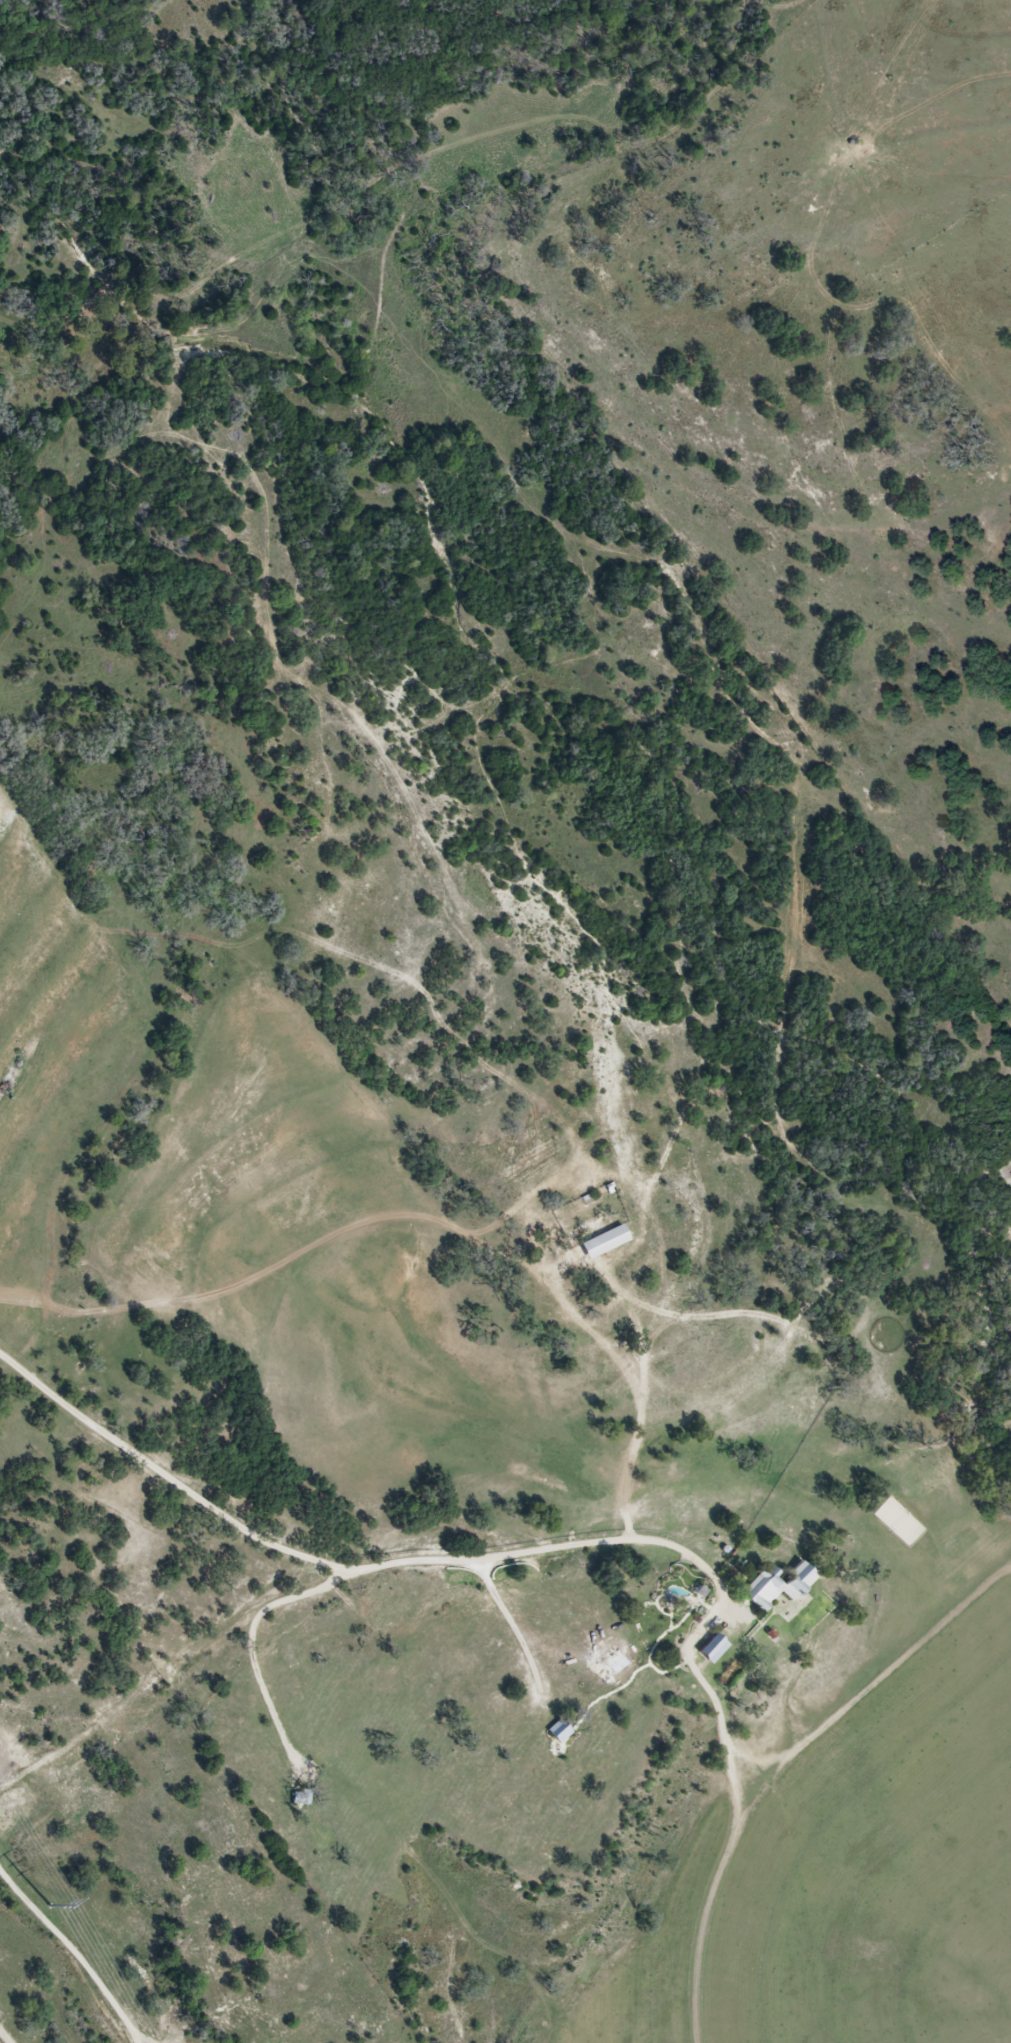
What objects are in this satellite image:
building: (606, 1242)
road: (433, 1565)
building: (779, 1586)
building: (714, 1648)
building: (618, 1661)
building: (561, 1730)
power tower: (50, 1907)
road: (7, 2034)

